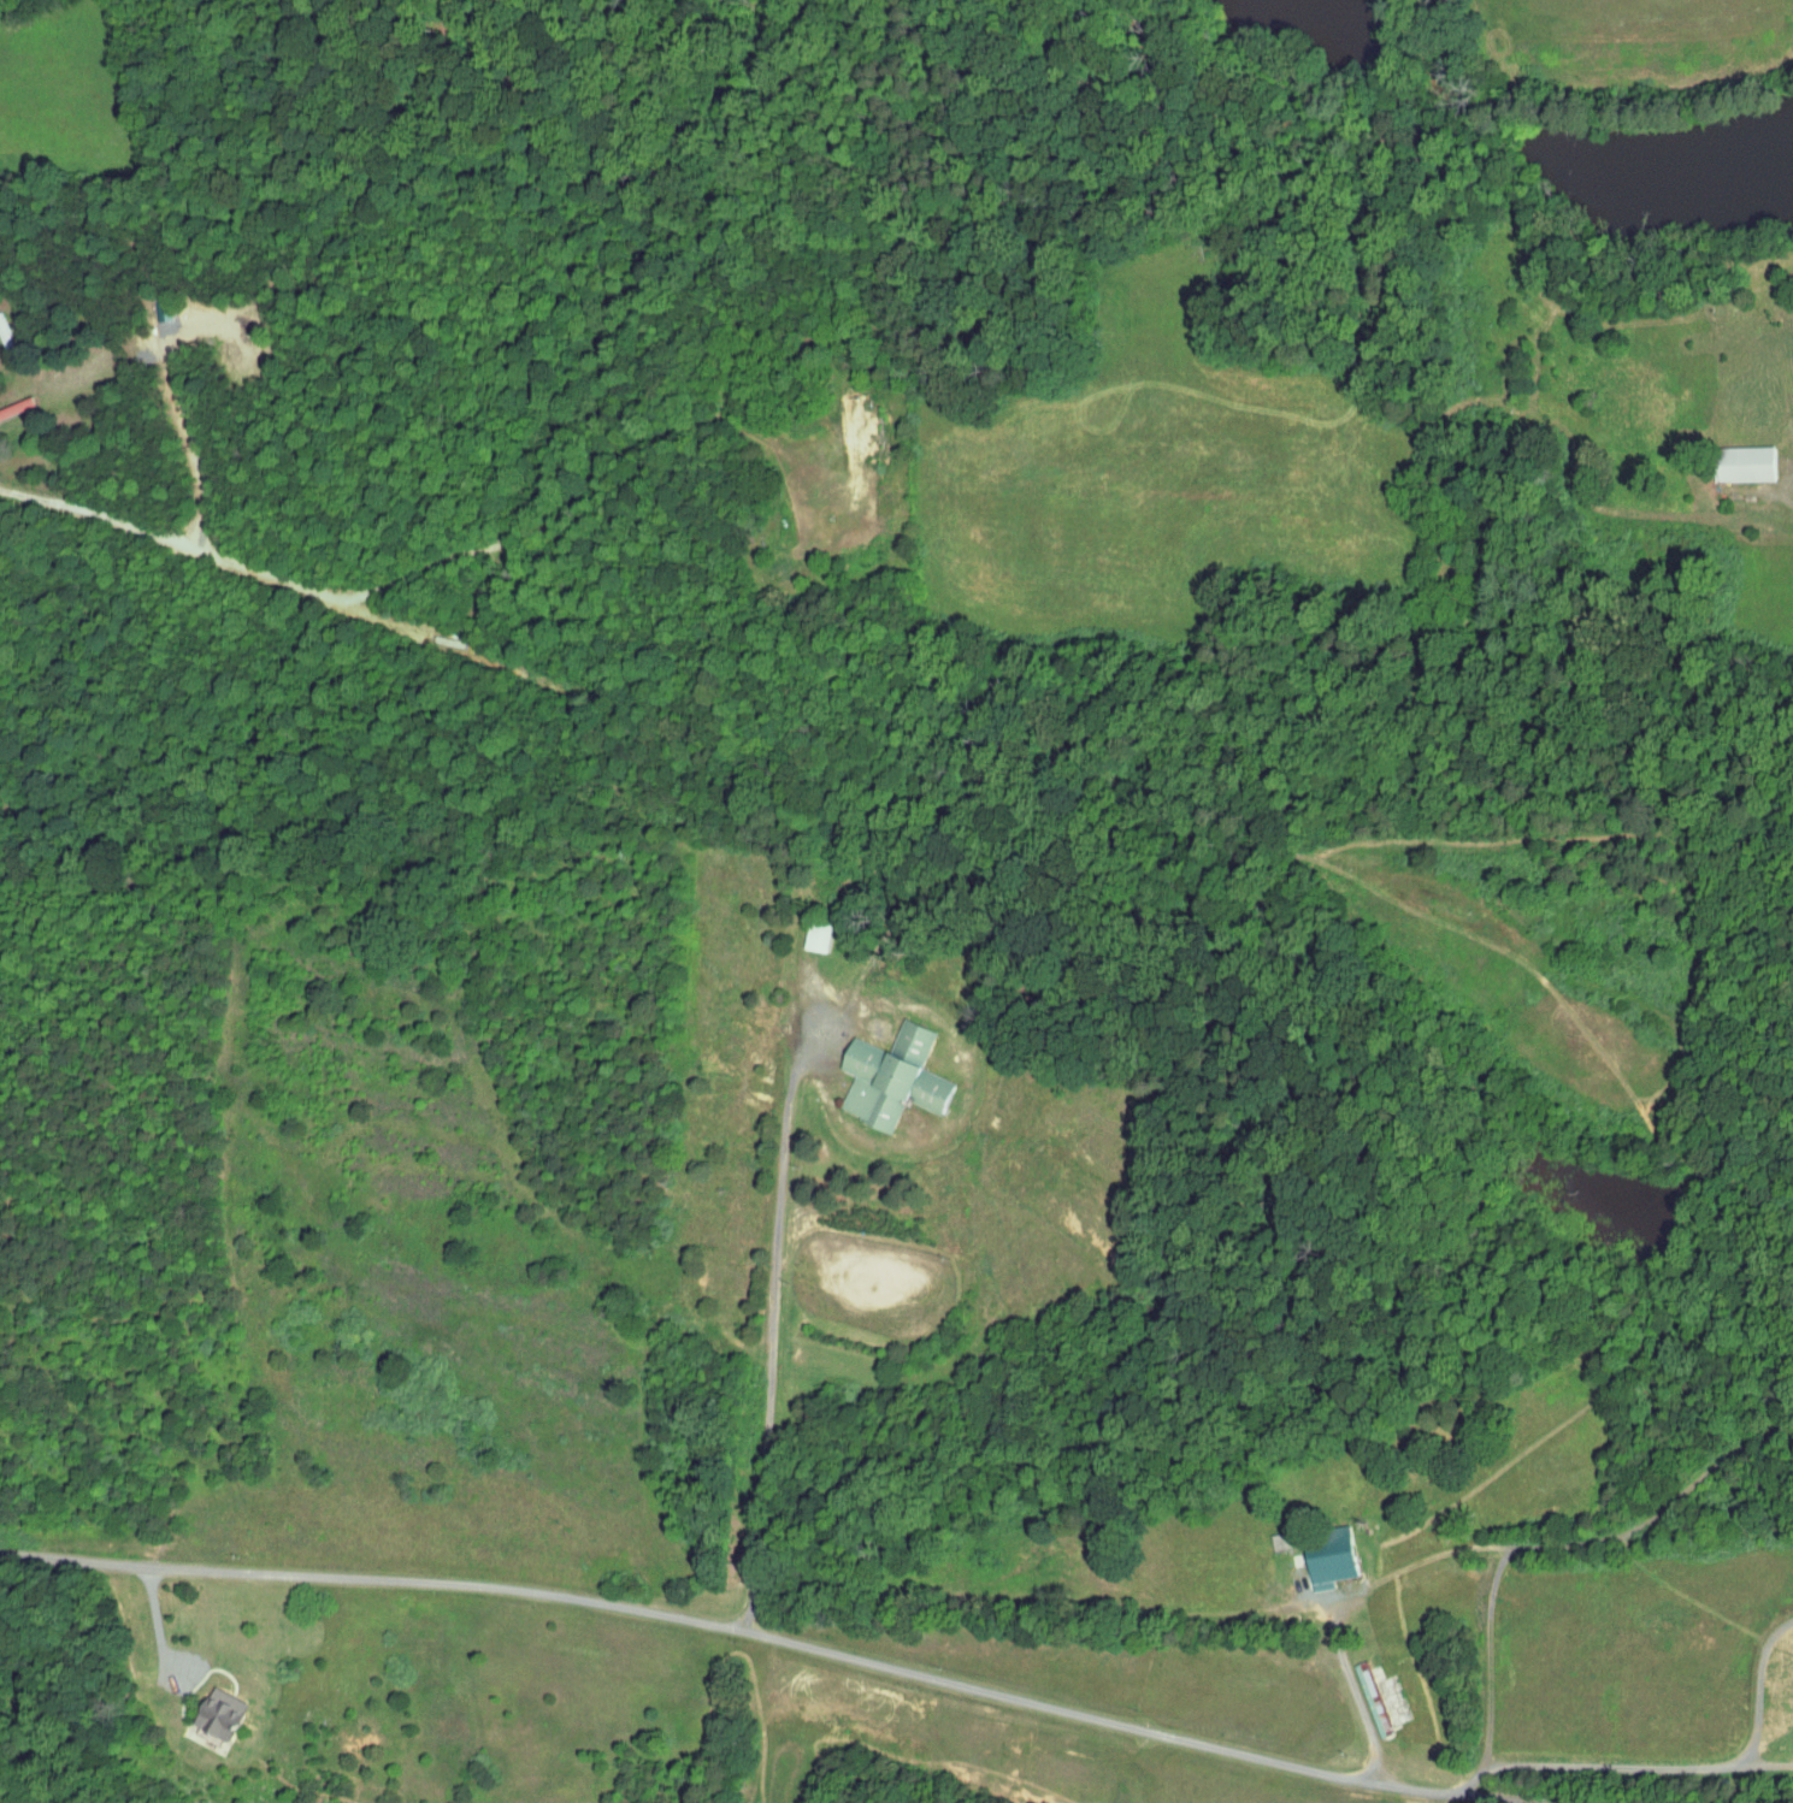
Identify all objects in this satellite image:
building: (17, 407)
building: (1747, 463)
building: (893, 1077)
road: (772, 1316)
building: (1332, 1557)
road: (159, 1620)
road: (763, 1632)
building: (1373, 1696)
road: (1353, 1698)
building: (220, 1712)
road: (1676, 1767)

